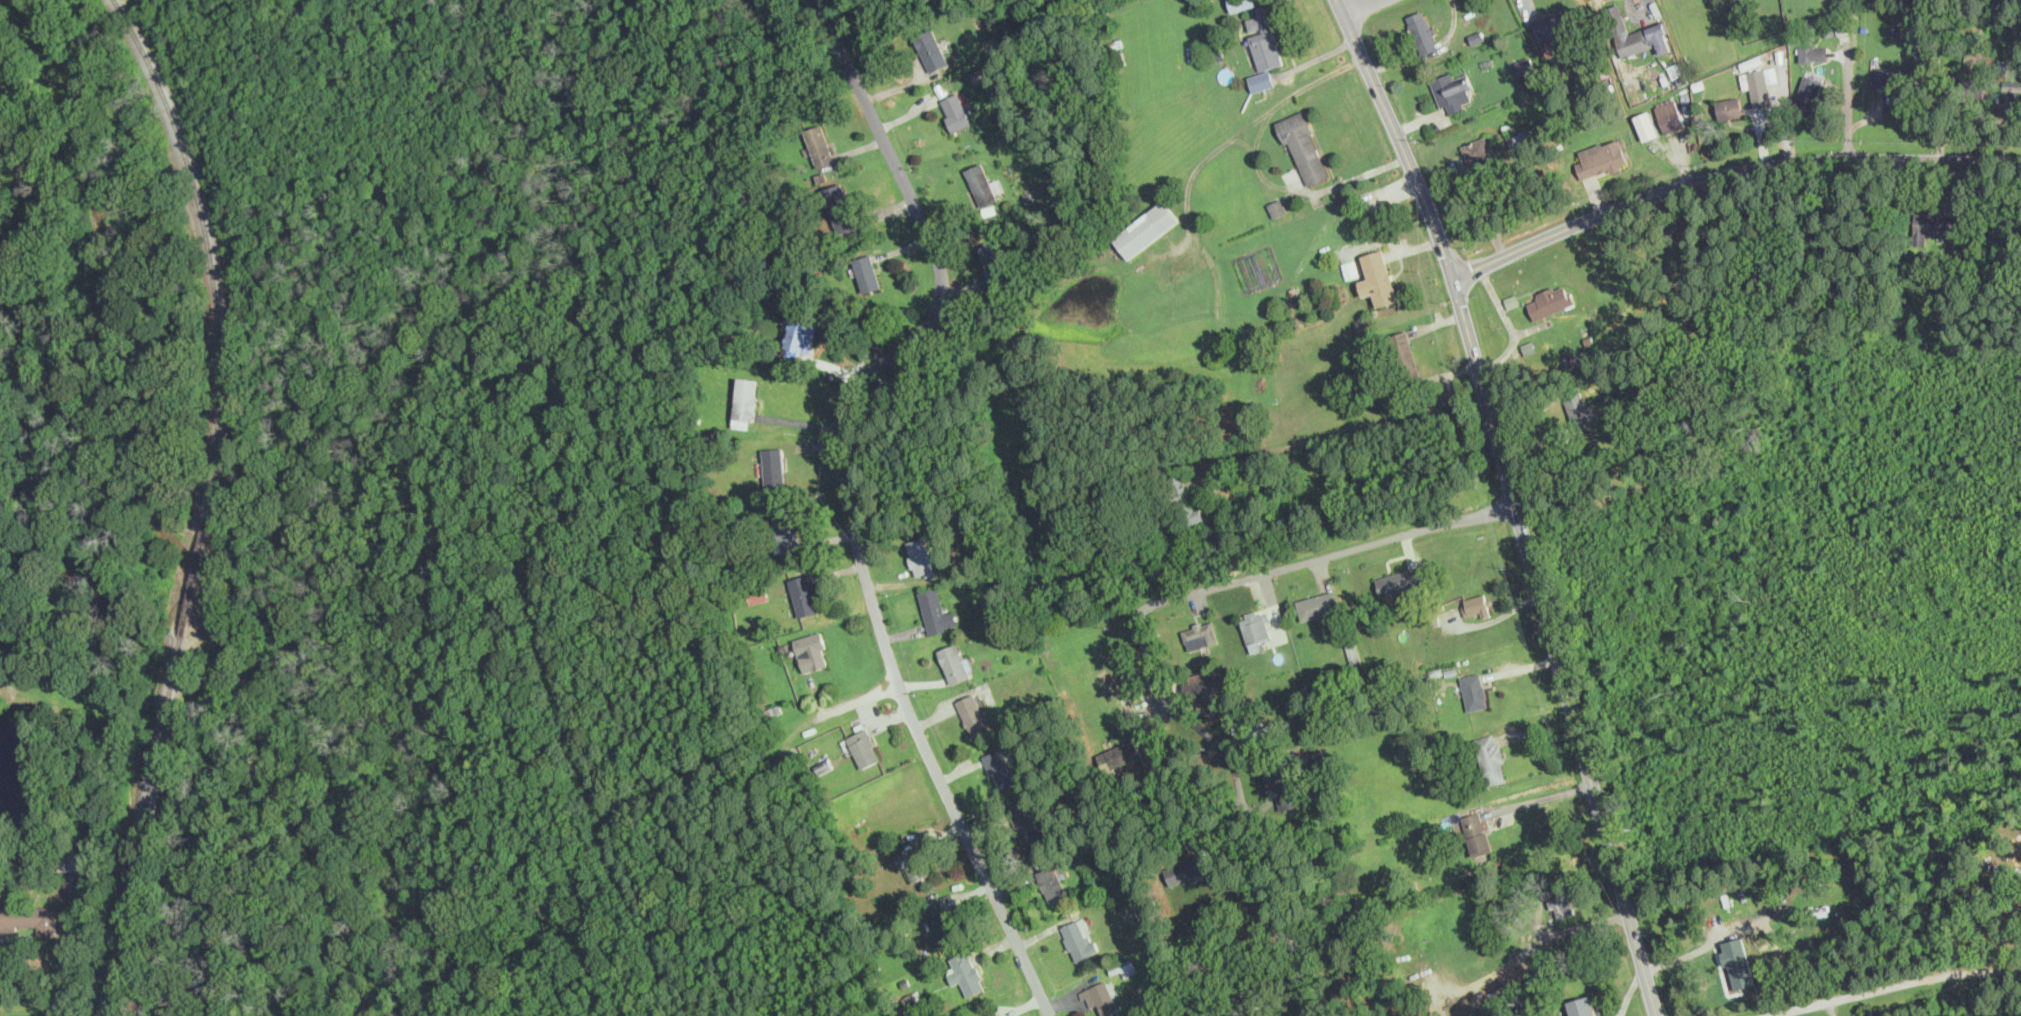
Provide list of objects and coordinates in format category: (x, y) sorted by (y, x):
building: (1241, 4)
road: (1359, 7)
building: (1554, 25)
building: (1422, 31)
building: (1637, 34)
building: (931, 48)
building: (1263, 48)
building: (1813, 52)
building: (1528, 71)
building: (1894, 76)
building: (1758, 86)
building: (1452, 89)
building: (2011, 89)
building: (1809, 91)
building: (1729, 106)
building: (955, 111)
building: (1669, 115)
road: (1246, 125)
building: (1647, 125)
building: (1521, 137)
building: (820, 145)
building: (1304, 148)
building: (1479, 152)
building: (1603, 158)
road: (1727, 174)
building: (981, 184)
road: (1301, 190)
building: (1276, 206)
building: (840, 208)
building: (1932, 224)
building: (1146, 228)
railway: (209, 252)
building: (995, 266)
building: (867, 272)
traffic signals: (1453, 277)
building: (1377, 278)
building: (1550, 300)
building: (801, 335)
building: (1402, 355)
building: (746, 402)
building: (1578, 411)
road: (1342, 430)
building: (774, 466)
road: (844, 492)
building: (1183, 499)
road: (1514, 501)
road: (86, 530)
building: (786, 533)
building: (920, 556)
building: (978, 556)
railway: (195, 579)
building: (1399, 581)
road: (1193, 591)
building: (757, 594)
building: (804, 594)
building: (1476, 604)
building: (1320, 606)
building: (936, 611)
road: (1499, 617)
building: (1255, 629)
building: (1200, 635)
building: (812, 651)
building: (955, 662)
building: (1210, 691)
building: (1474, 691)
road: (858, 698)
building: (974, 715)
building: (1263, 731)
building: (864, 747)
building: (1489, 759)
building: (999, 767)
building: (1284, 786)
road: (1544, 796)
building: (1028, 826)
railway: (145, 827)
building: (1476, 833)
building: (79, 859)
building: (912, 863)
building: (1185, 869)
building: (1052, 883)
building: (1144, 909)
building: (30, 917)
building: (939, 920)
building: (1079, 938)
road: (72, 950)
road: (1692, 952)
building: (1738, 961)
building: (966, 972)
road: (1894, 981)
building: (1102, 997)
building: (915, 999)
building: (1582, 1006)
building: (996, 1014)
building: (1287, 1014)

